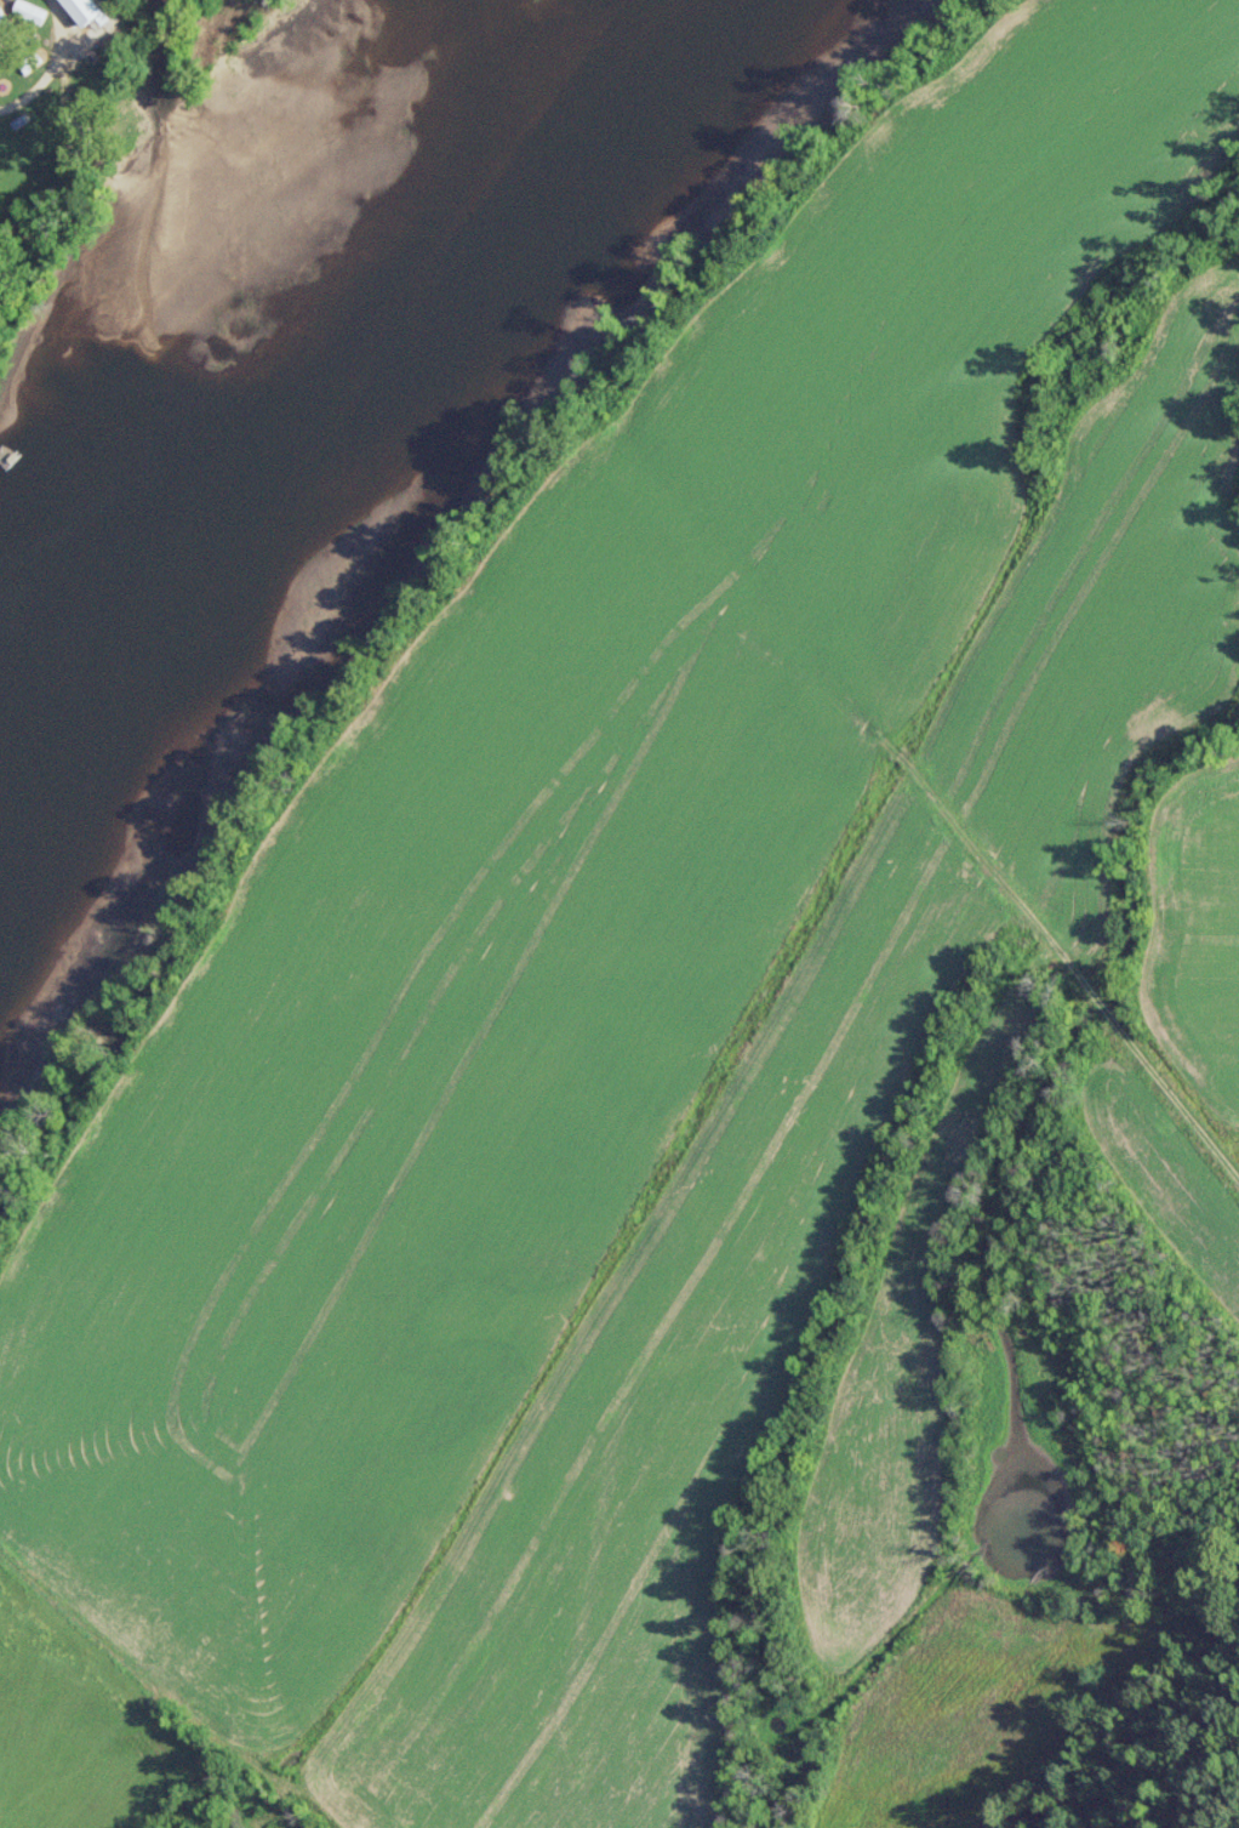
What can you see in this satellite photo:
building: (82, 10)
building: (28, 12)
road: (48, 64)
river: (349, 400)
crop: (1181, 959)

